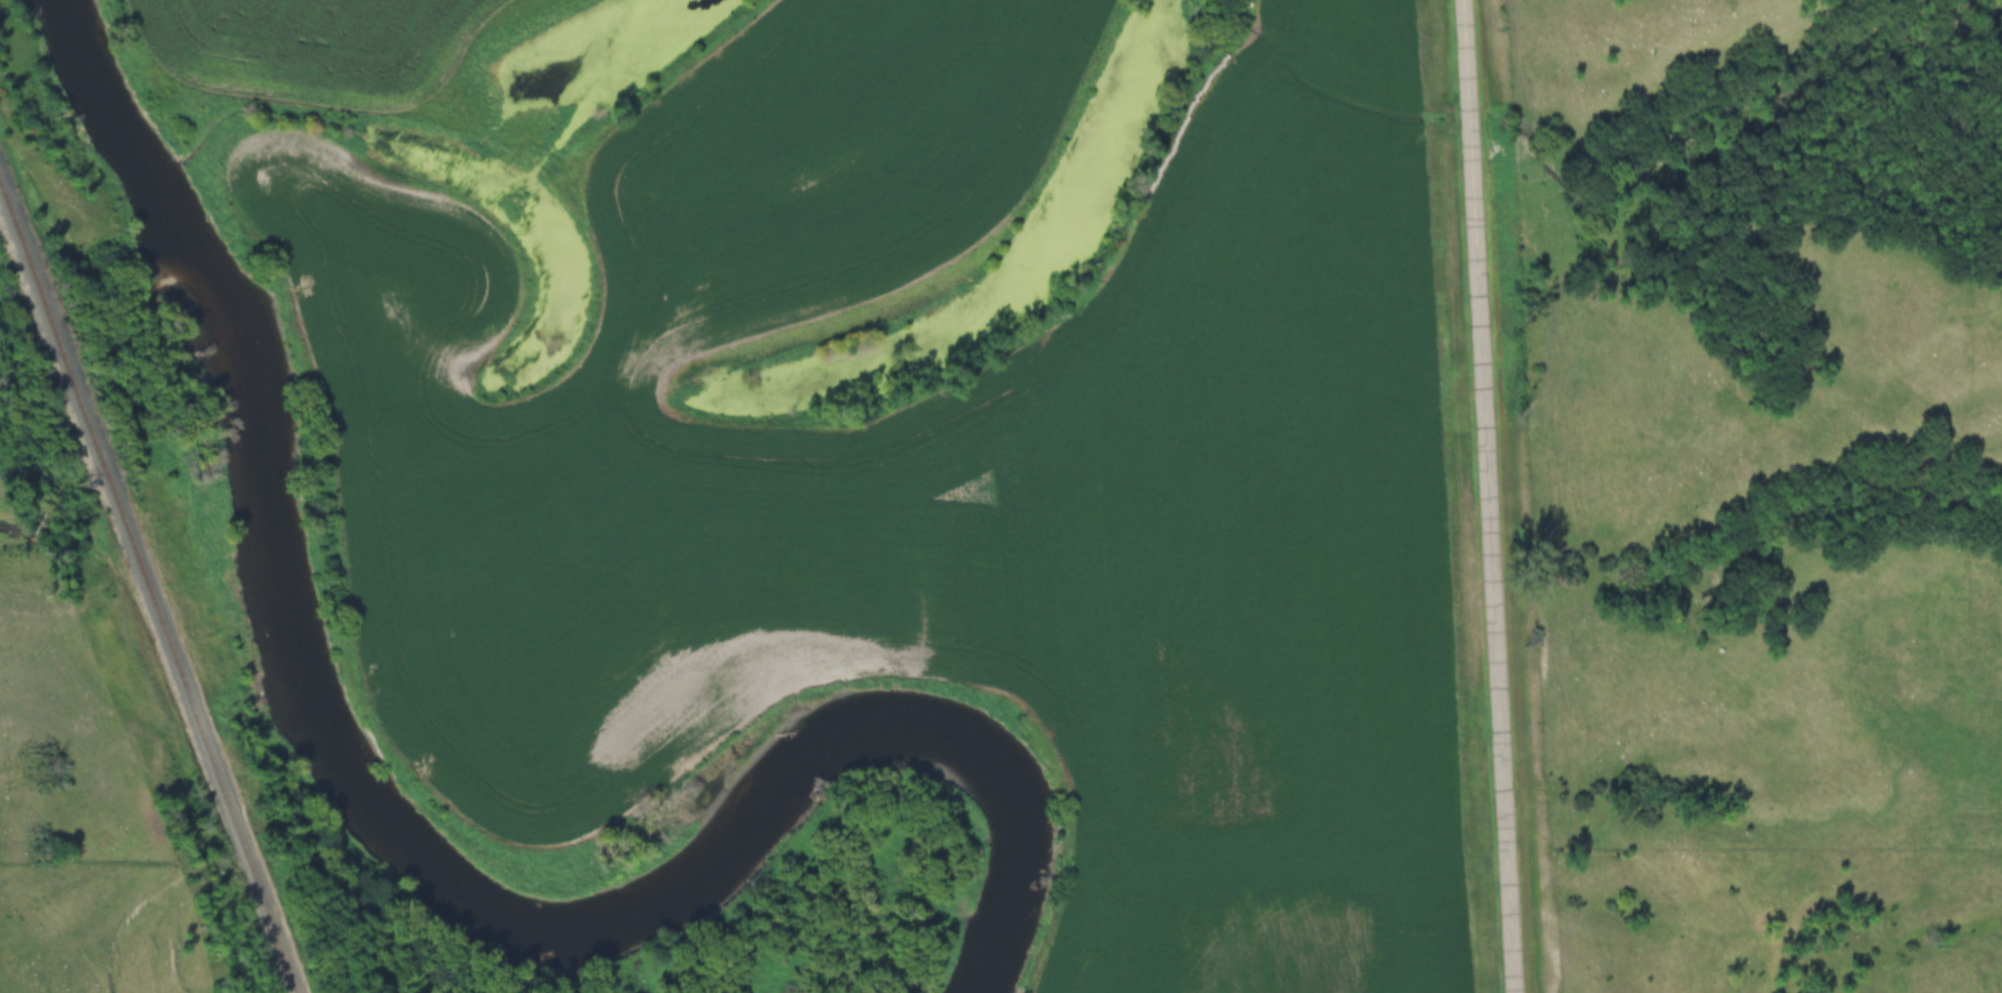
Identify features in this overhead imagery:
river: (121, 128)
road: (1488, 496)
railway: (130, 629)
river: (523, 912)

